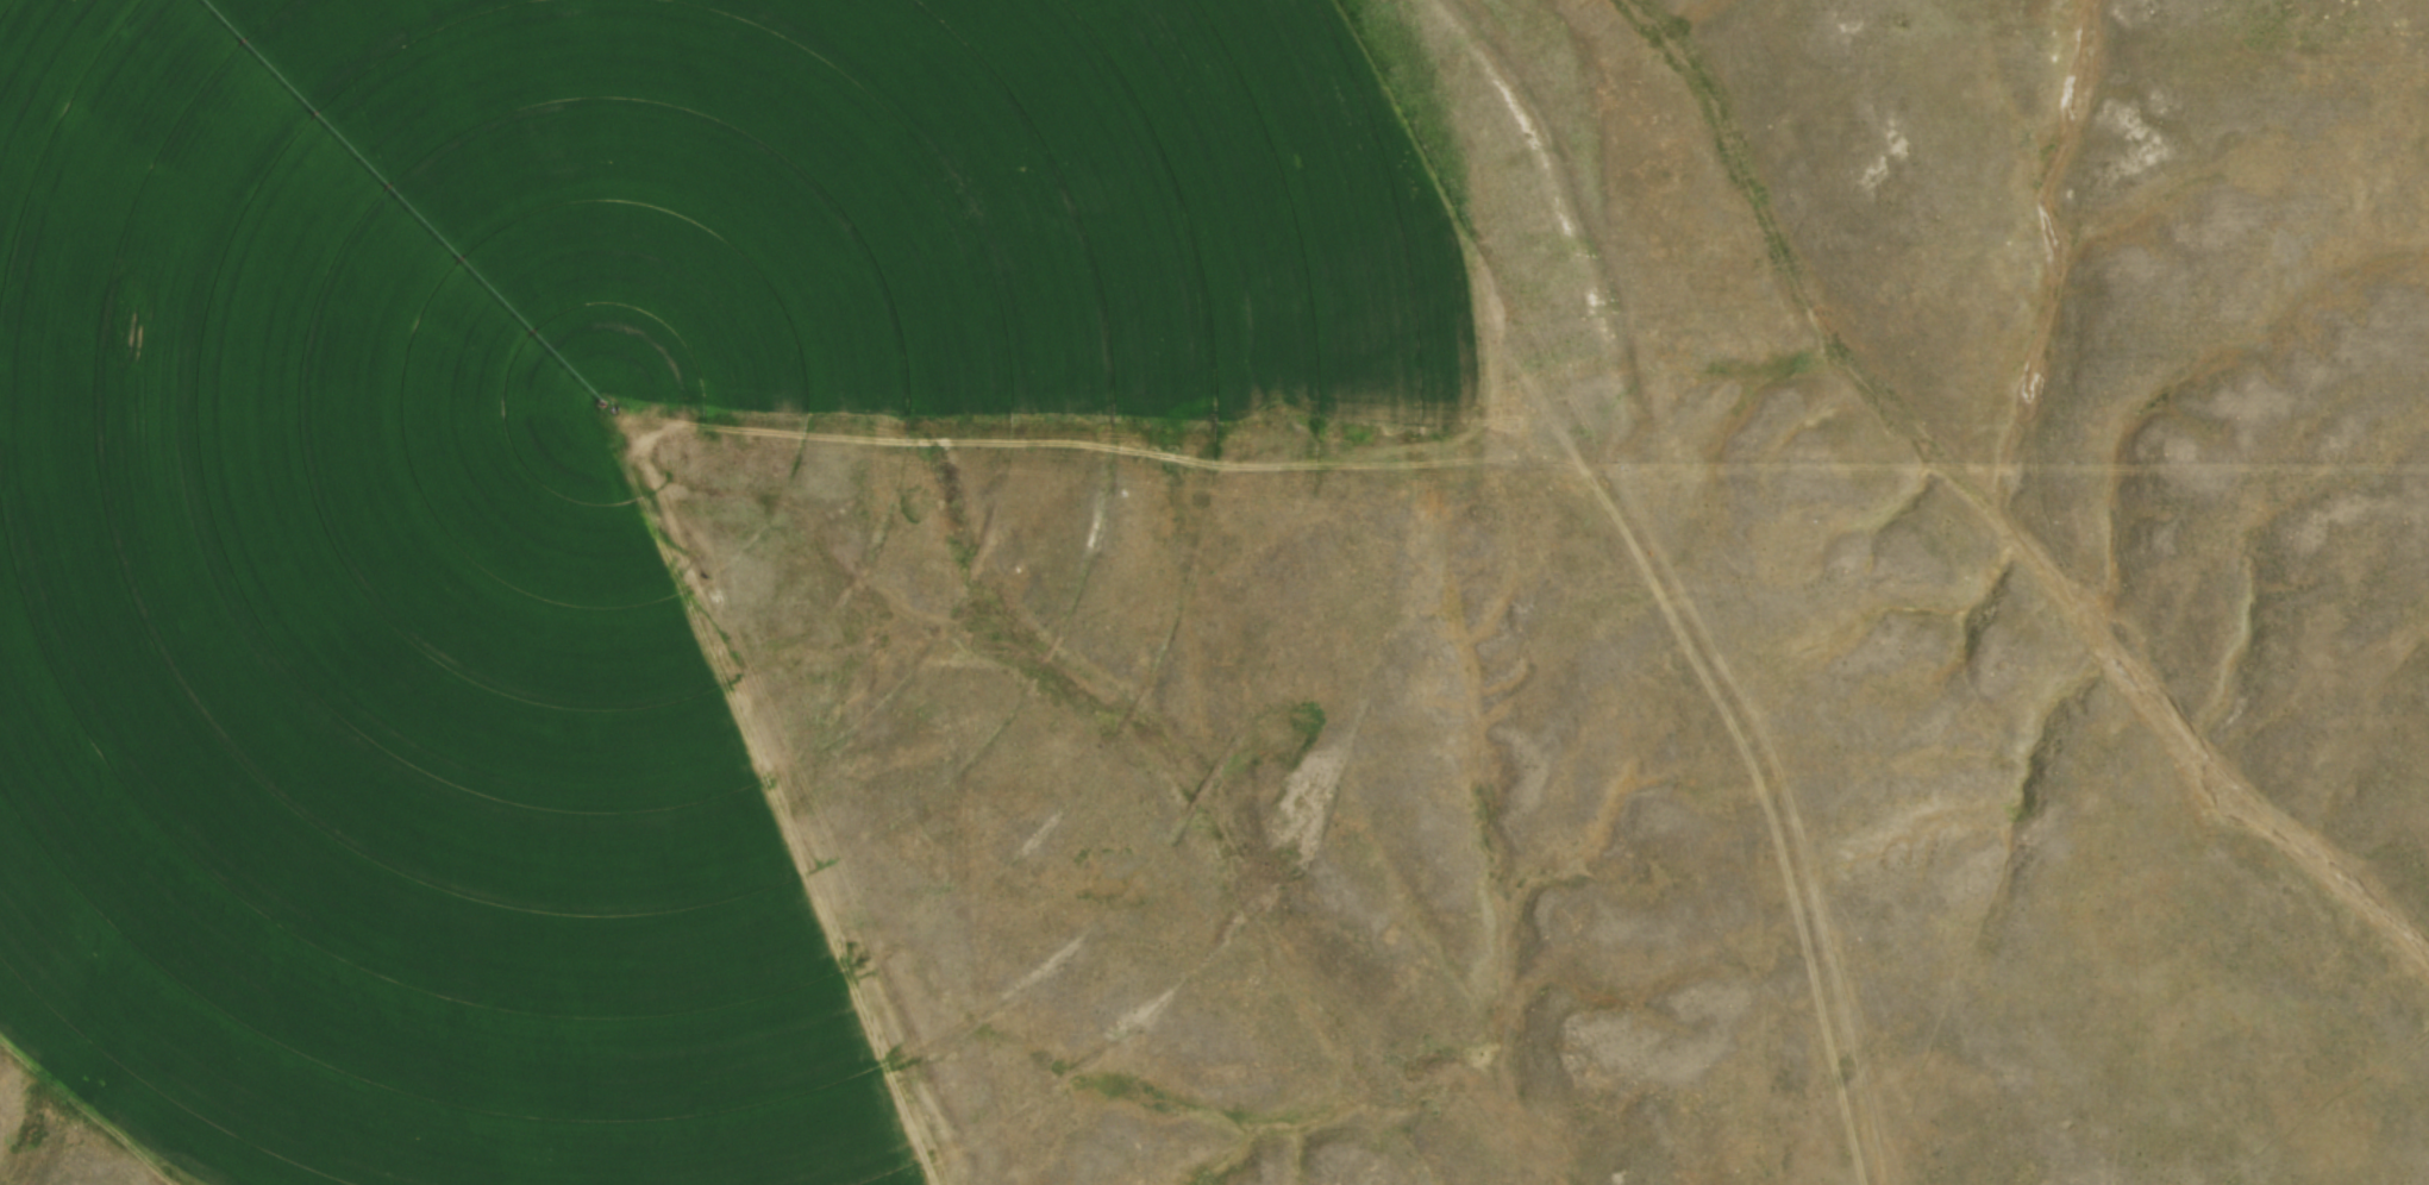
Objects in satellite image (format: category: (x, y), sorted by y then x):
crop: (568, 506)

